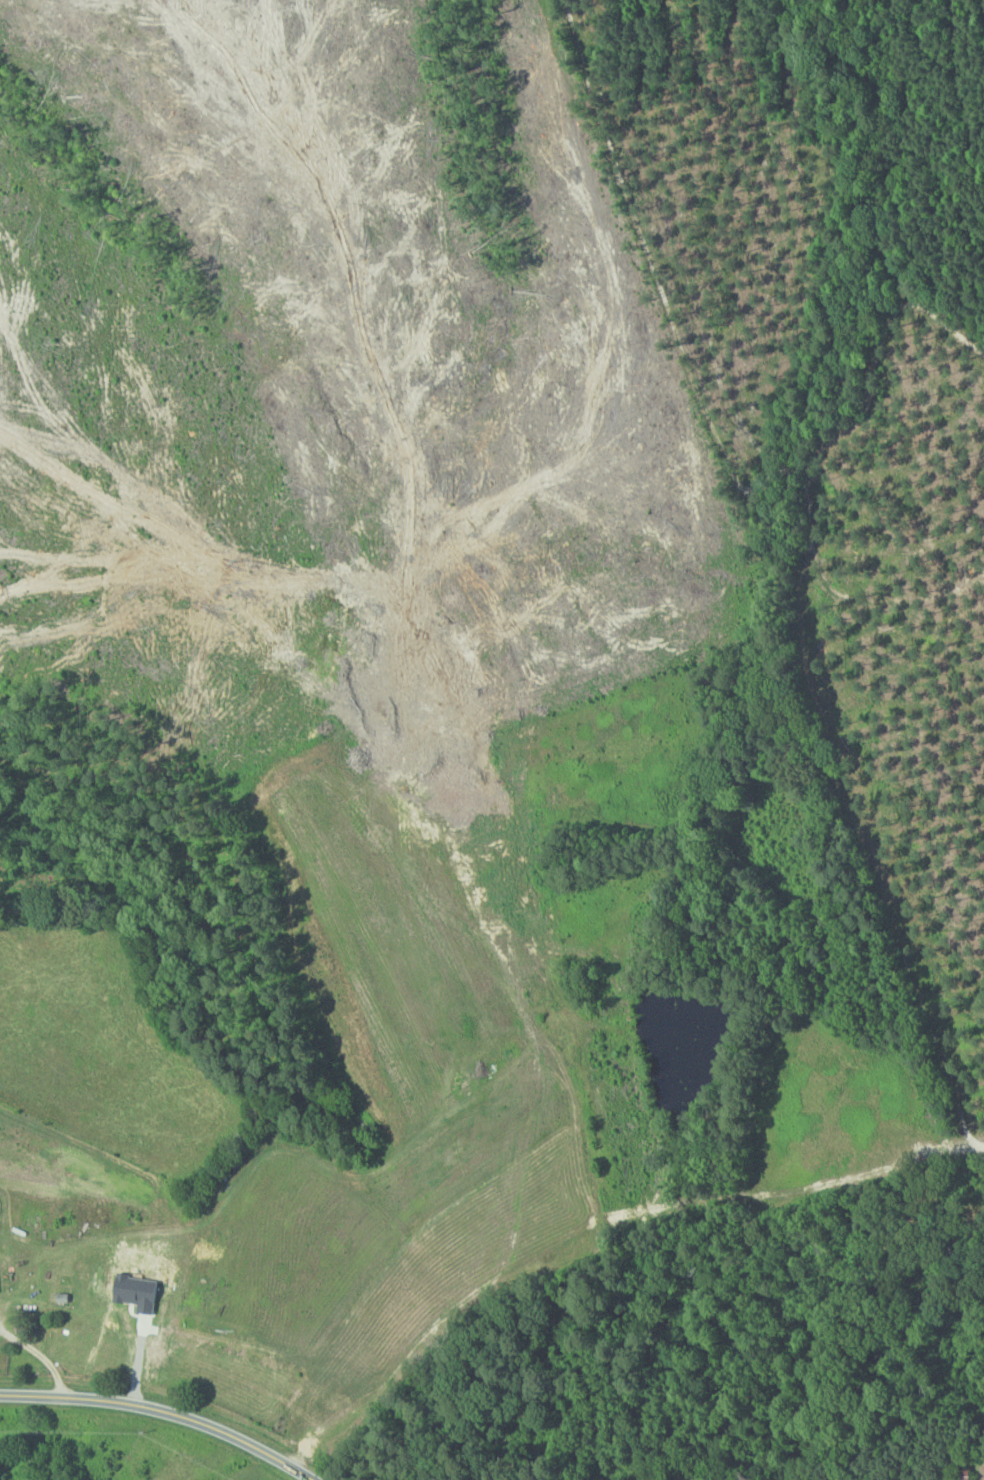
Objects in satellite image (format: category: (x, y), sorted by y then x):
building: (0, 1287)
building: (62, 1297)
road: (41, 1357)
road: (160, 1414)

